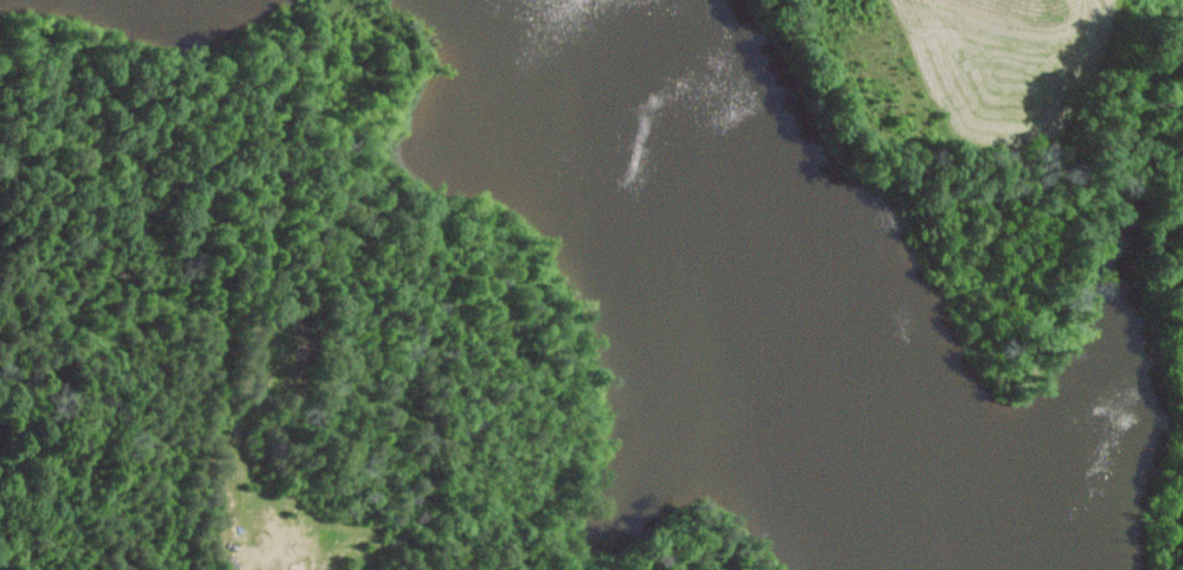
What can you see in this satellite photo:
river: (527, 15)
river: (769, 271)

